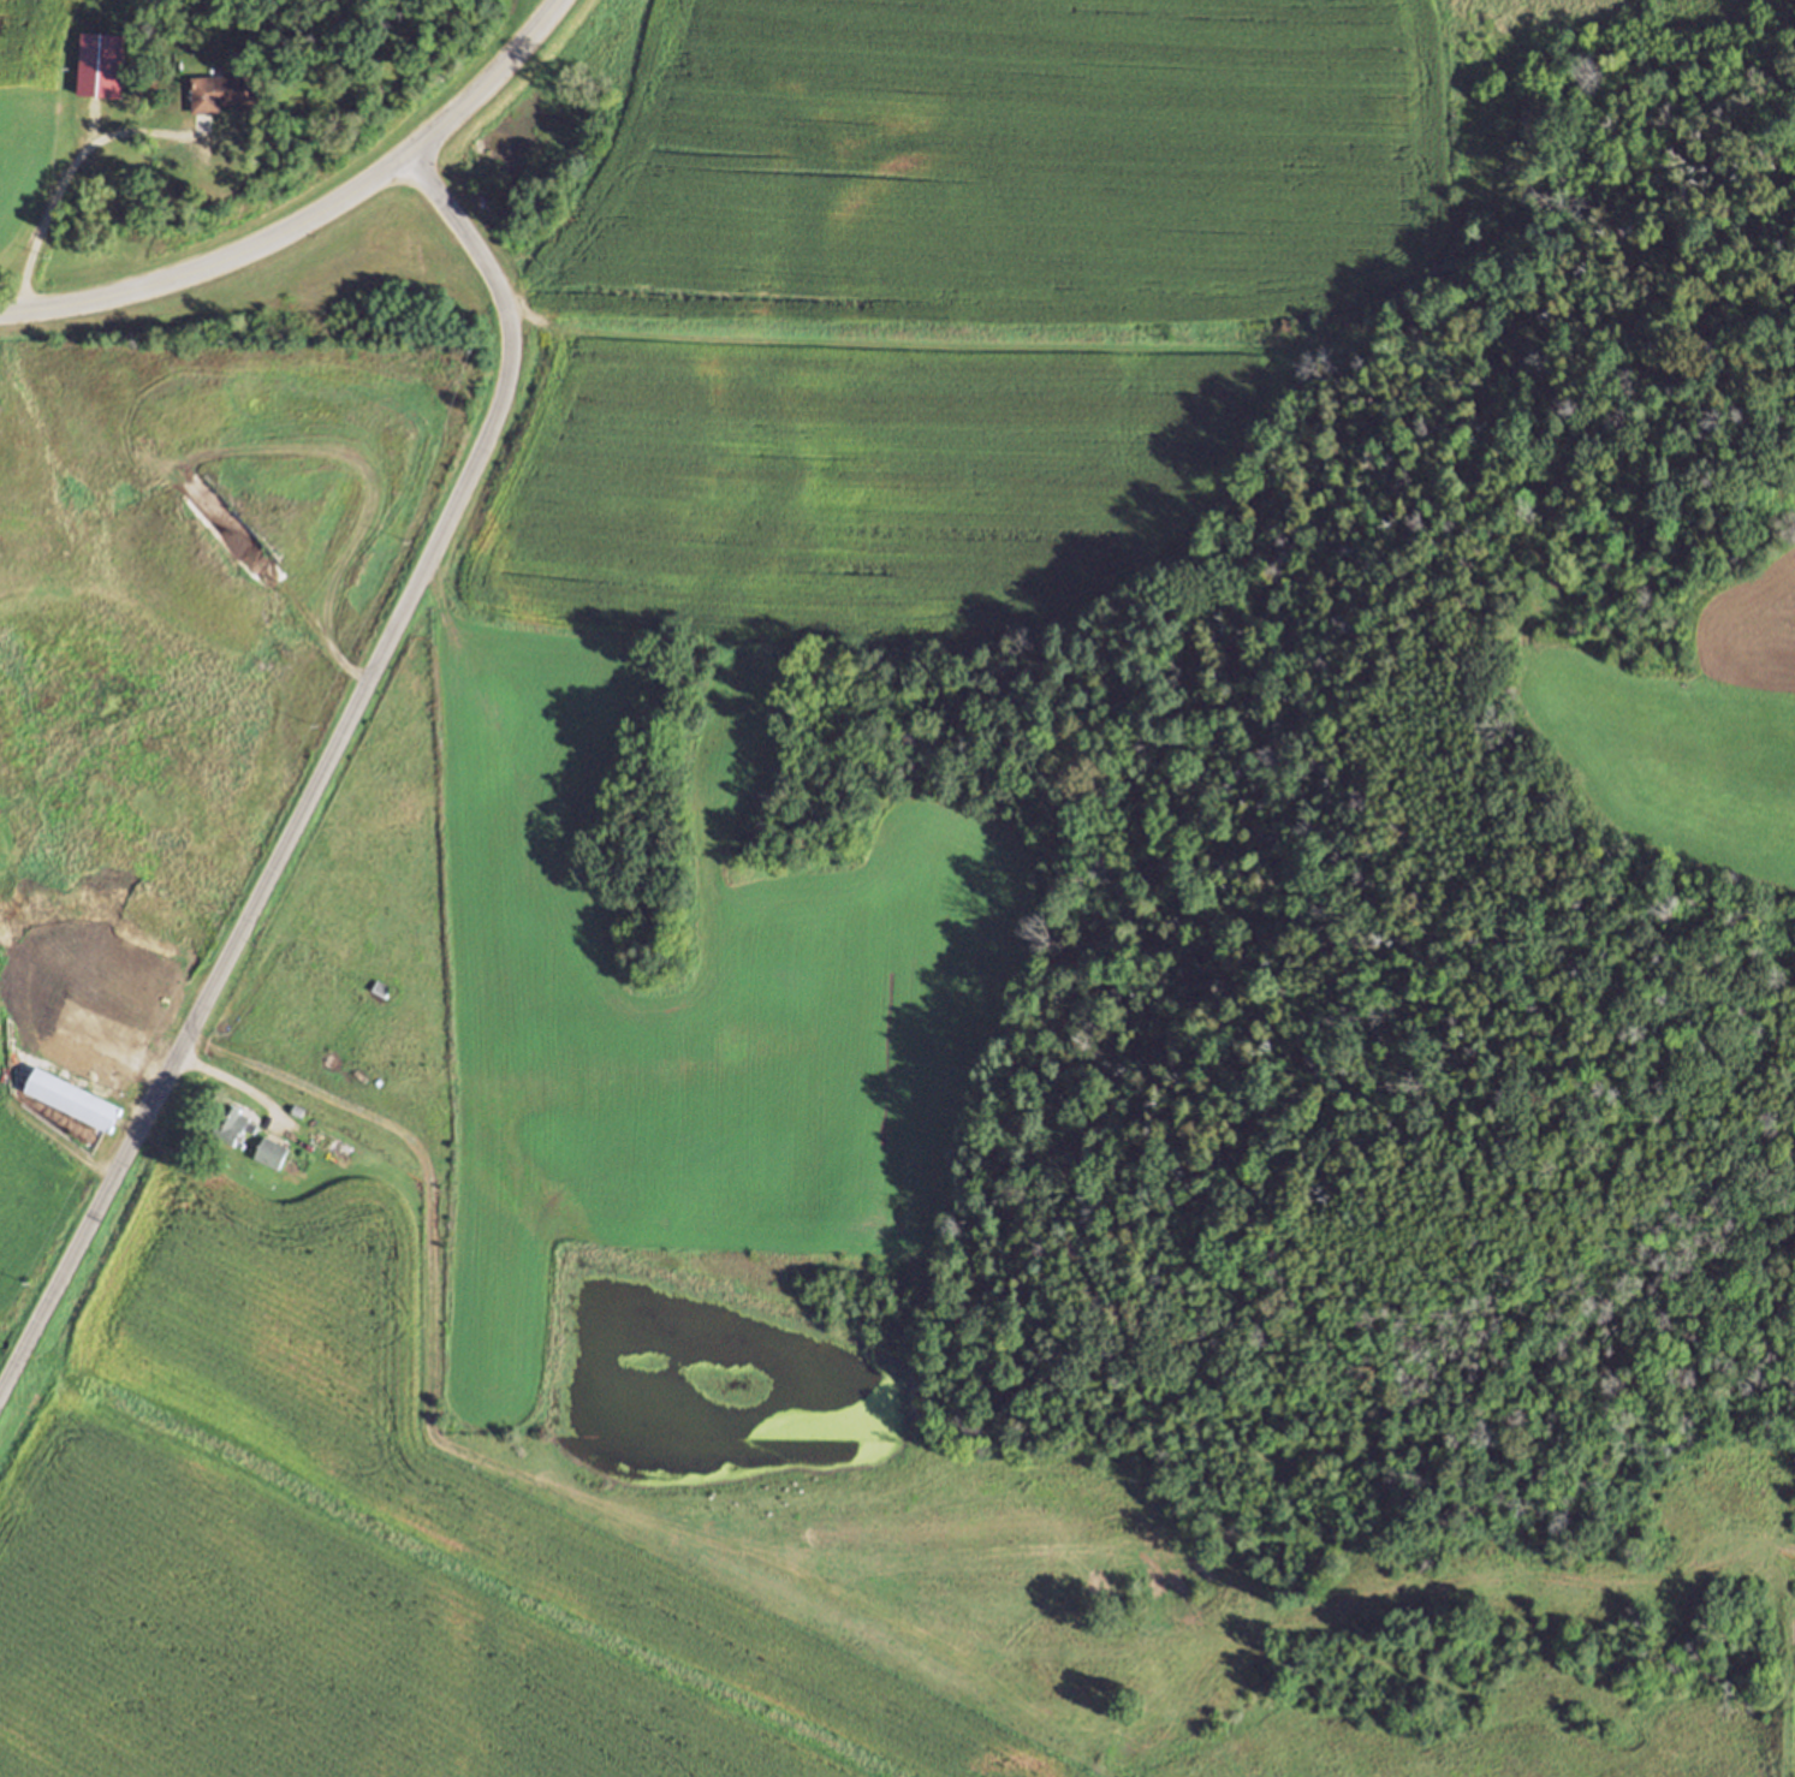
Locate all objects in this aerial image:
building: (135, 41)
building: (101, 63)
building: (222, 90)
road: (66, 174)
road: (311, 216)
road: (317, 775)
building: (17, 969)
building: (173, 980)
building: (137, 986)
building: (381, 987)
building: (137, 1030)
building: (83, 1044)
building: (72, 1096)
building: (298, 1110)
building: (233, 1122)
building: (332, 1143)
building: (271, 1152)

